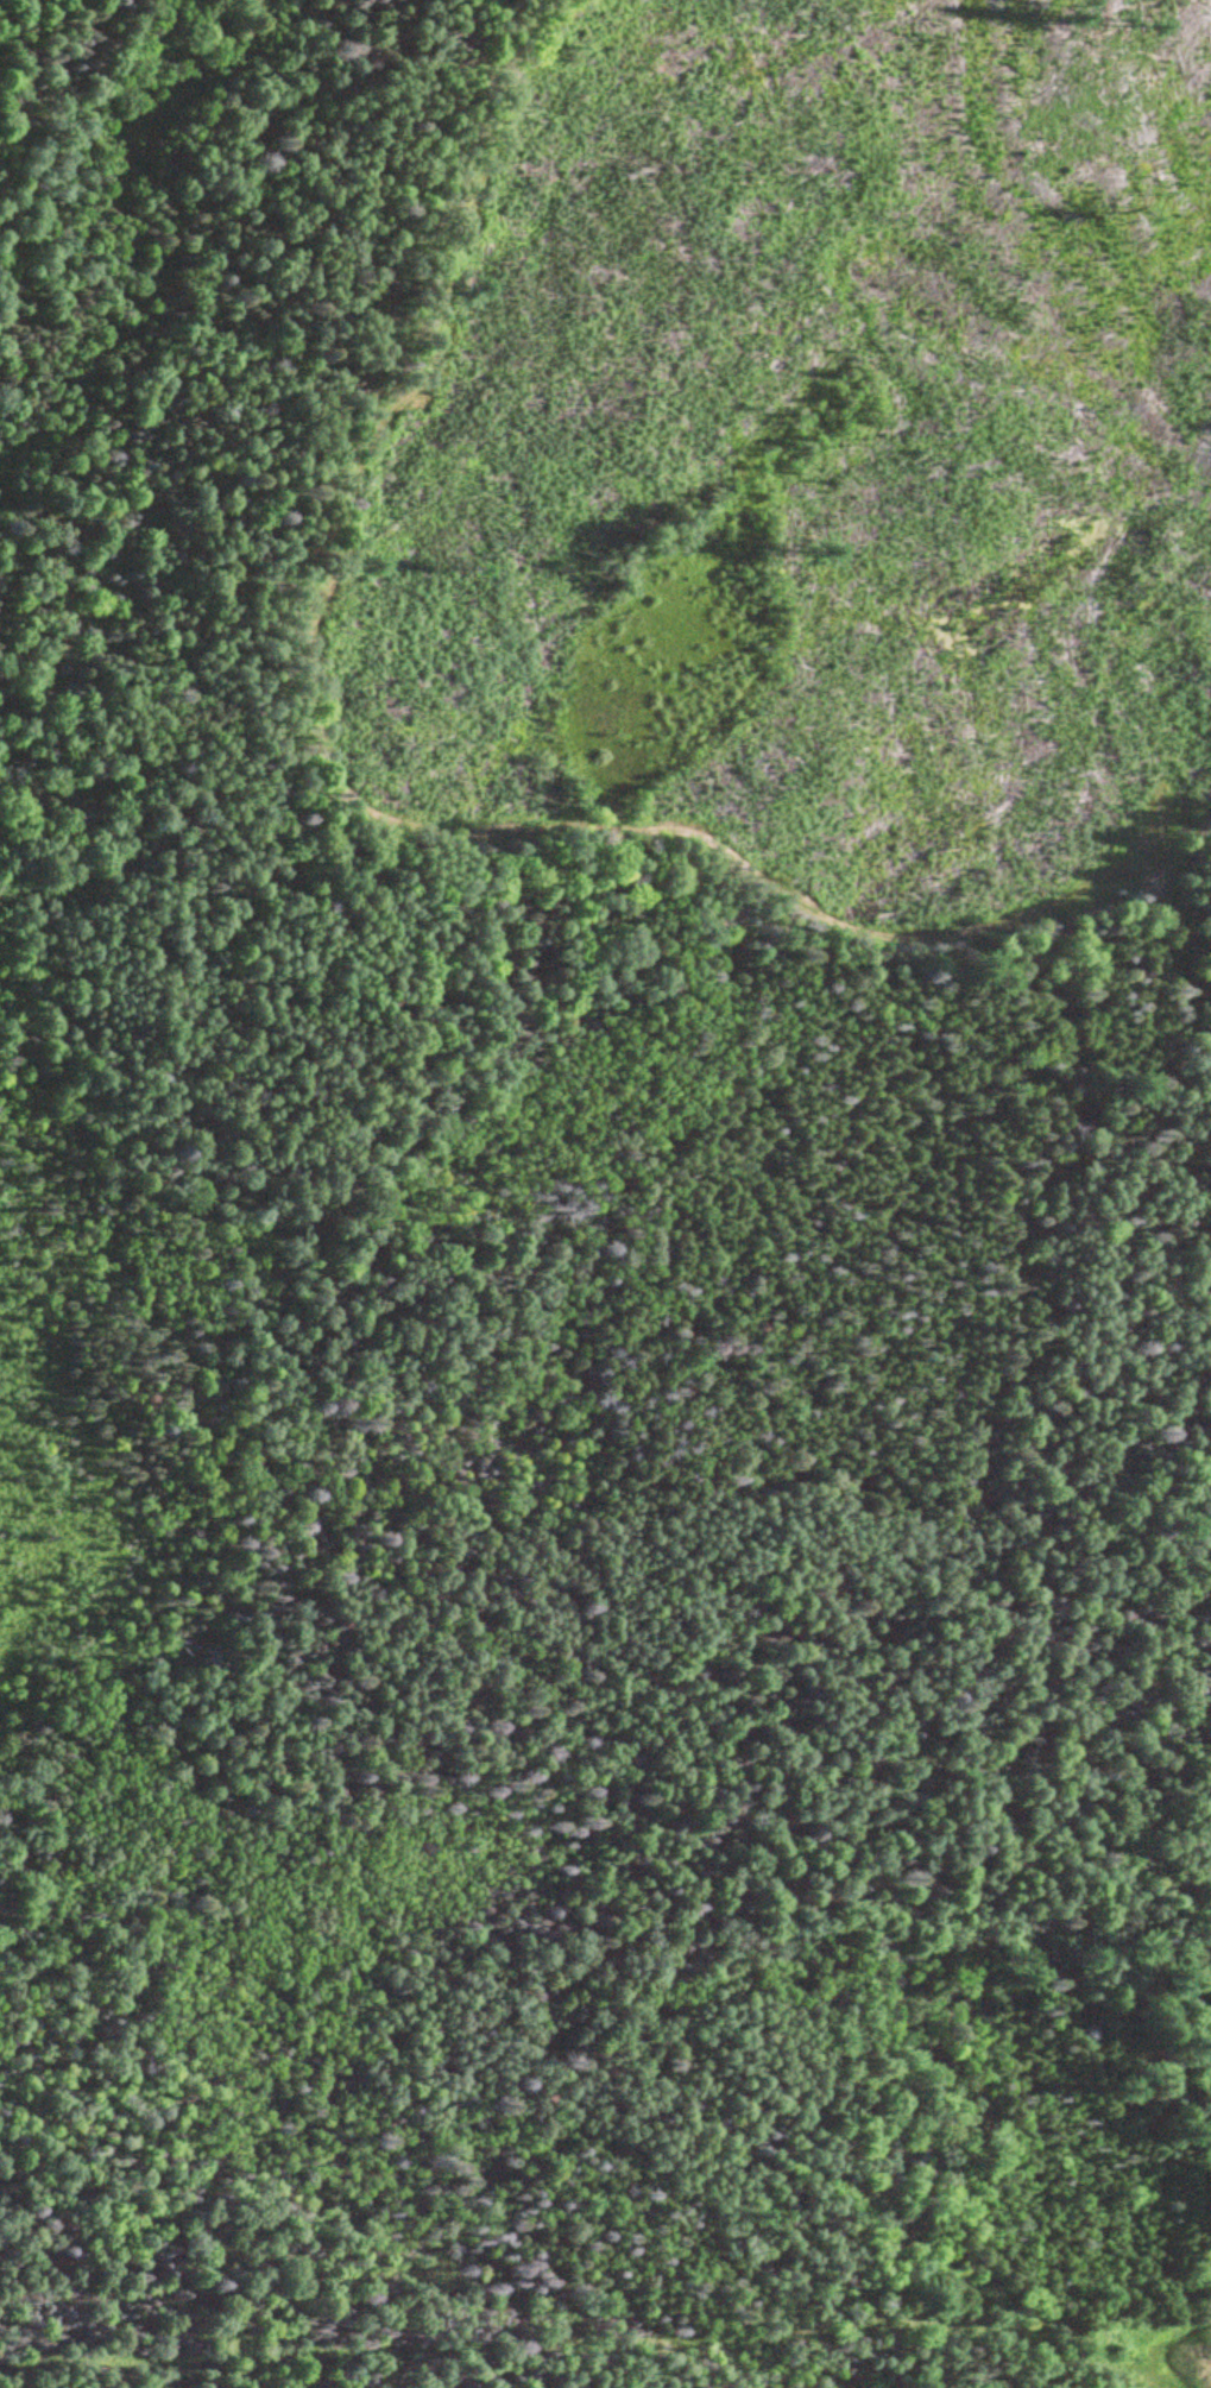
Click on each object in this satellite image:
quarry: (1162, 2331)

